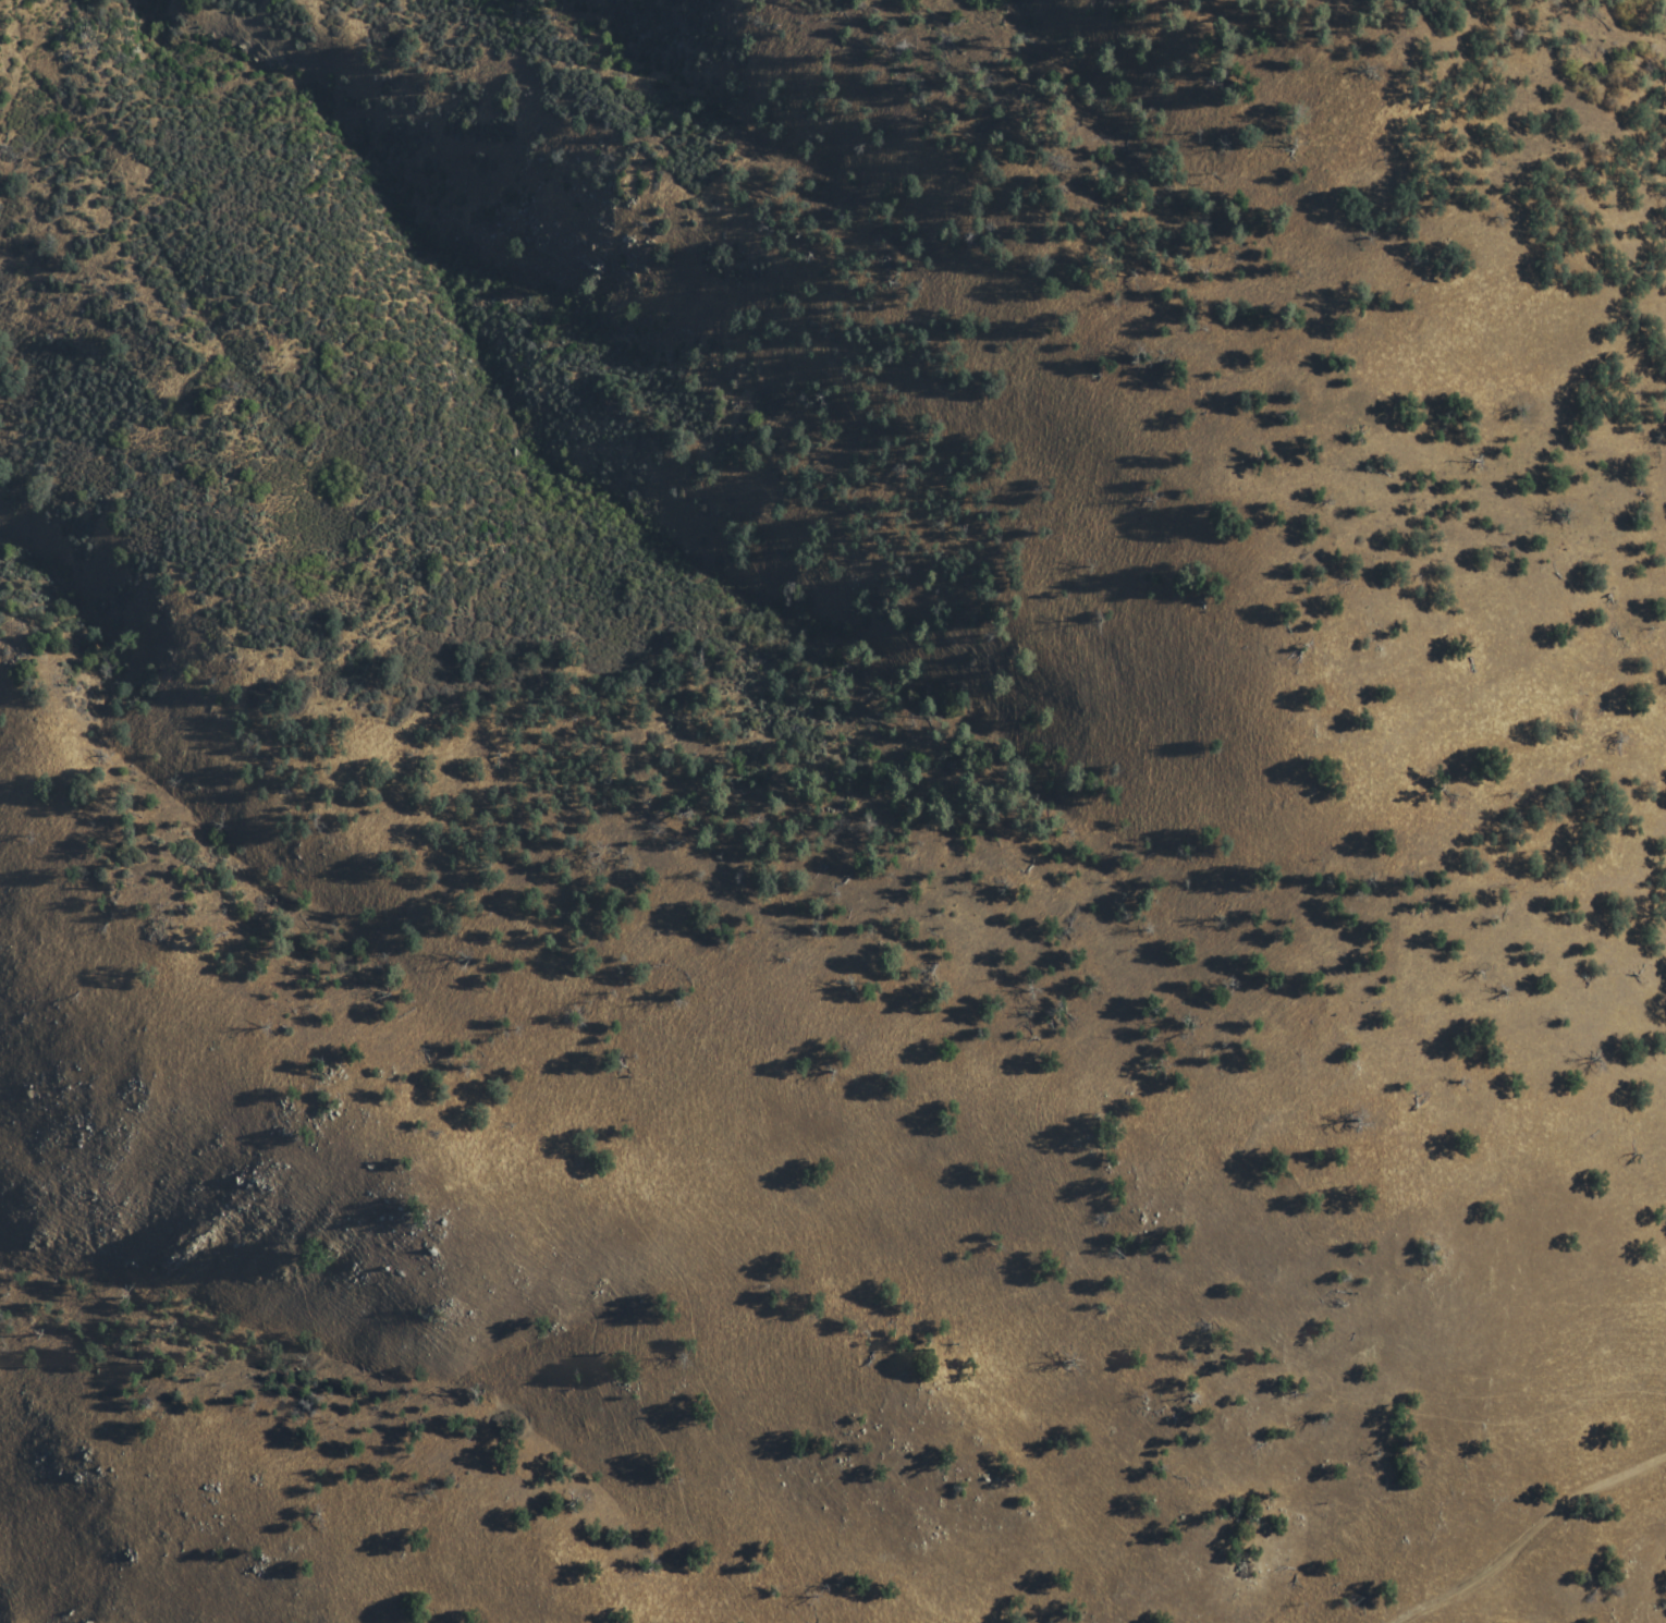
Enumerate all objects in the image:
road: (1551, 1553)

